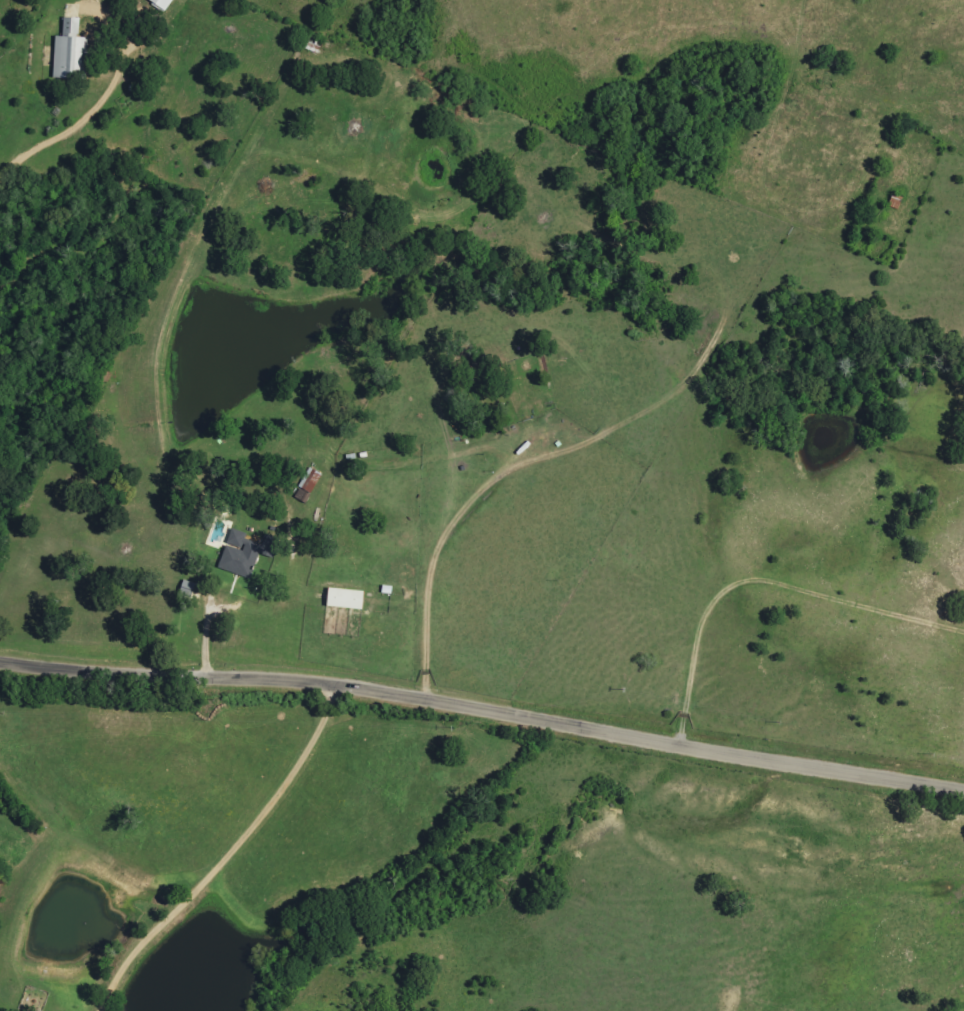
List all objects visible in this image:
building: (162, 4)
building: (71, 51)
road: (68, 121)
building: (308, 487)
road: (757, 570)
building: (188, 589)
building: (346, 600)
road: (159, 677)
road: (641, 742)
road: (228, 856)

